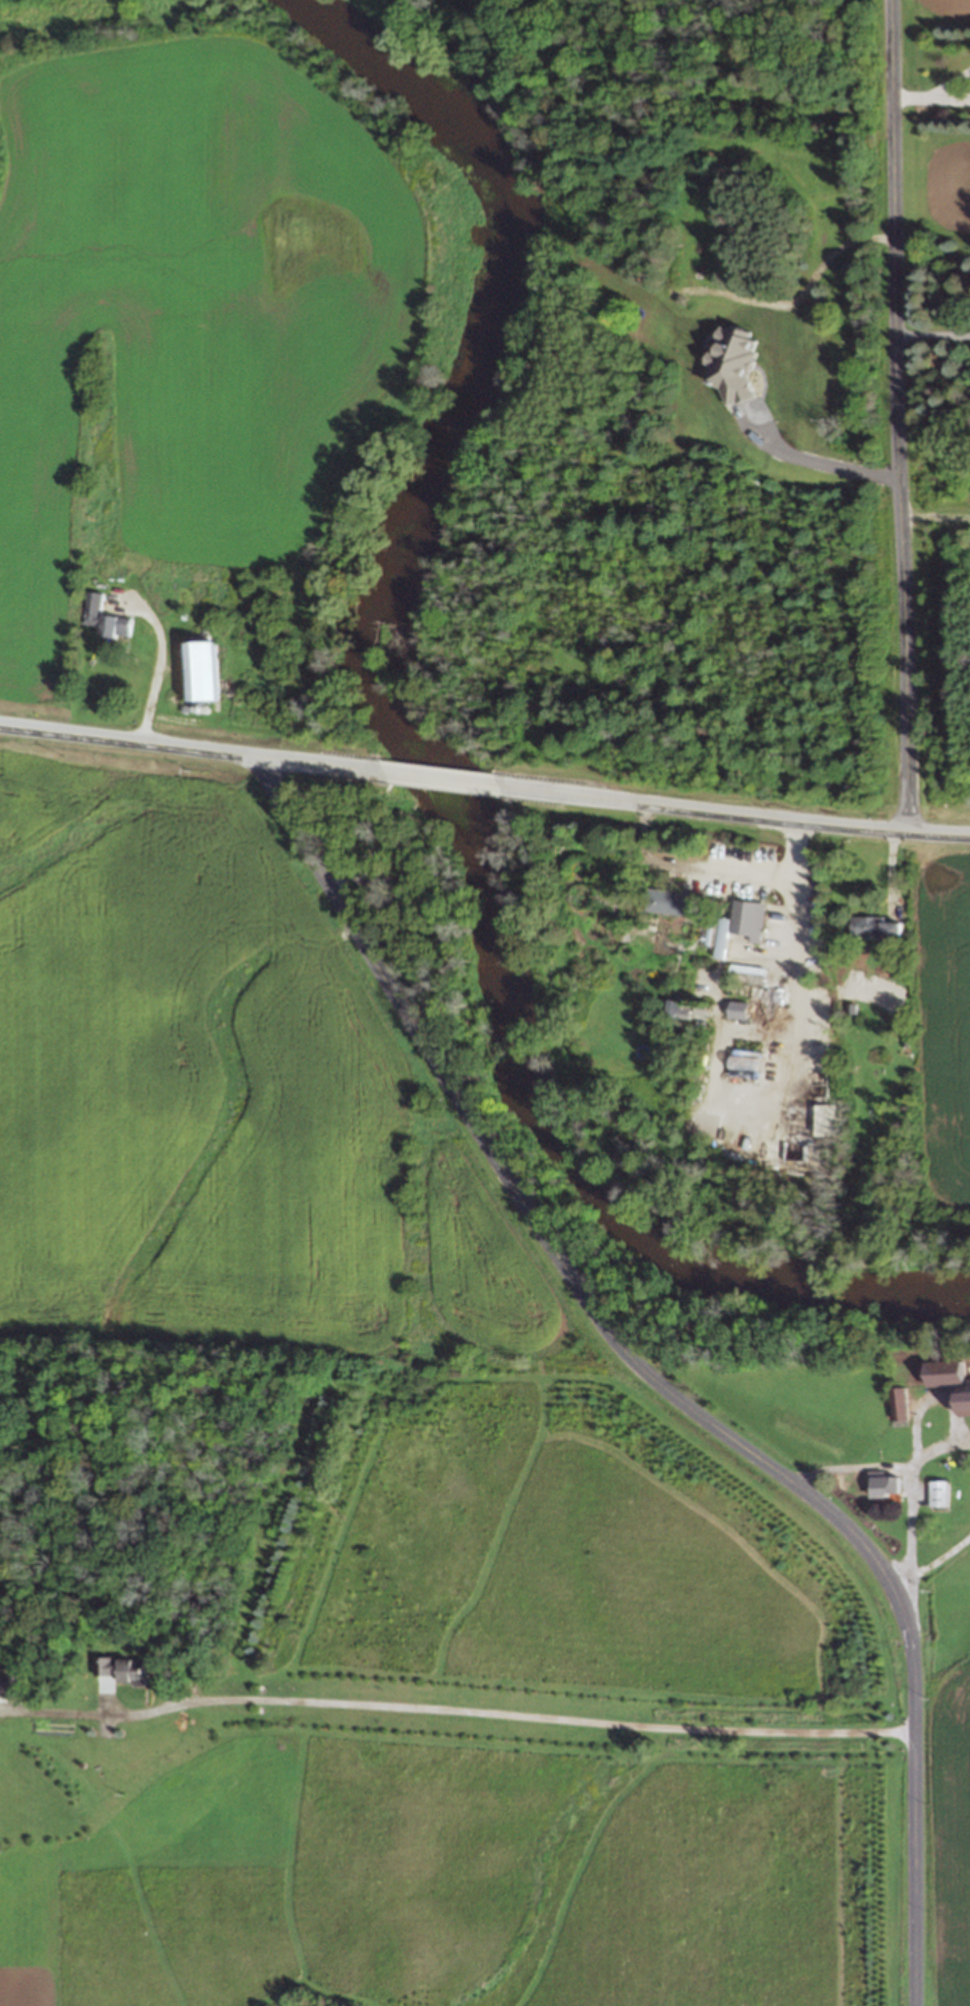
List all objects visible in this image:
road: (898, 416)
road: (935, 514)
building: (88, 607)
building: (115, 626)
building: (197, 670)
road: (190, 750)
river: (431, 755)
road: (439, 777)
road: (732, 815)
building: (666, 901)
building: (740, 917)
building: (873, 929)
building: (744, 973)
building: (671, 1009)
building: (941, 1373)
road: (655, 1379)
building: (960, 1402)
building: (896, 1404)
road: (942, 1447)
road: (918, 1469)
building: (882, 1485)
building: (937, 1493)
road: (942, 1558)
building: (119, 1670)
building: (4, 1683)

